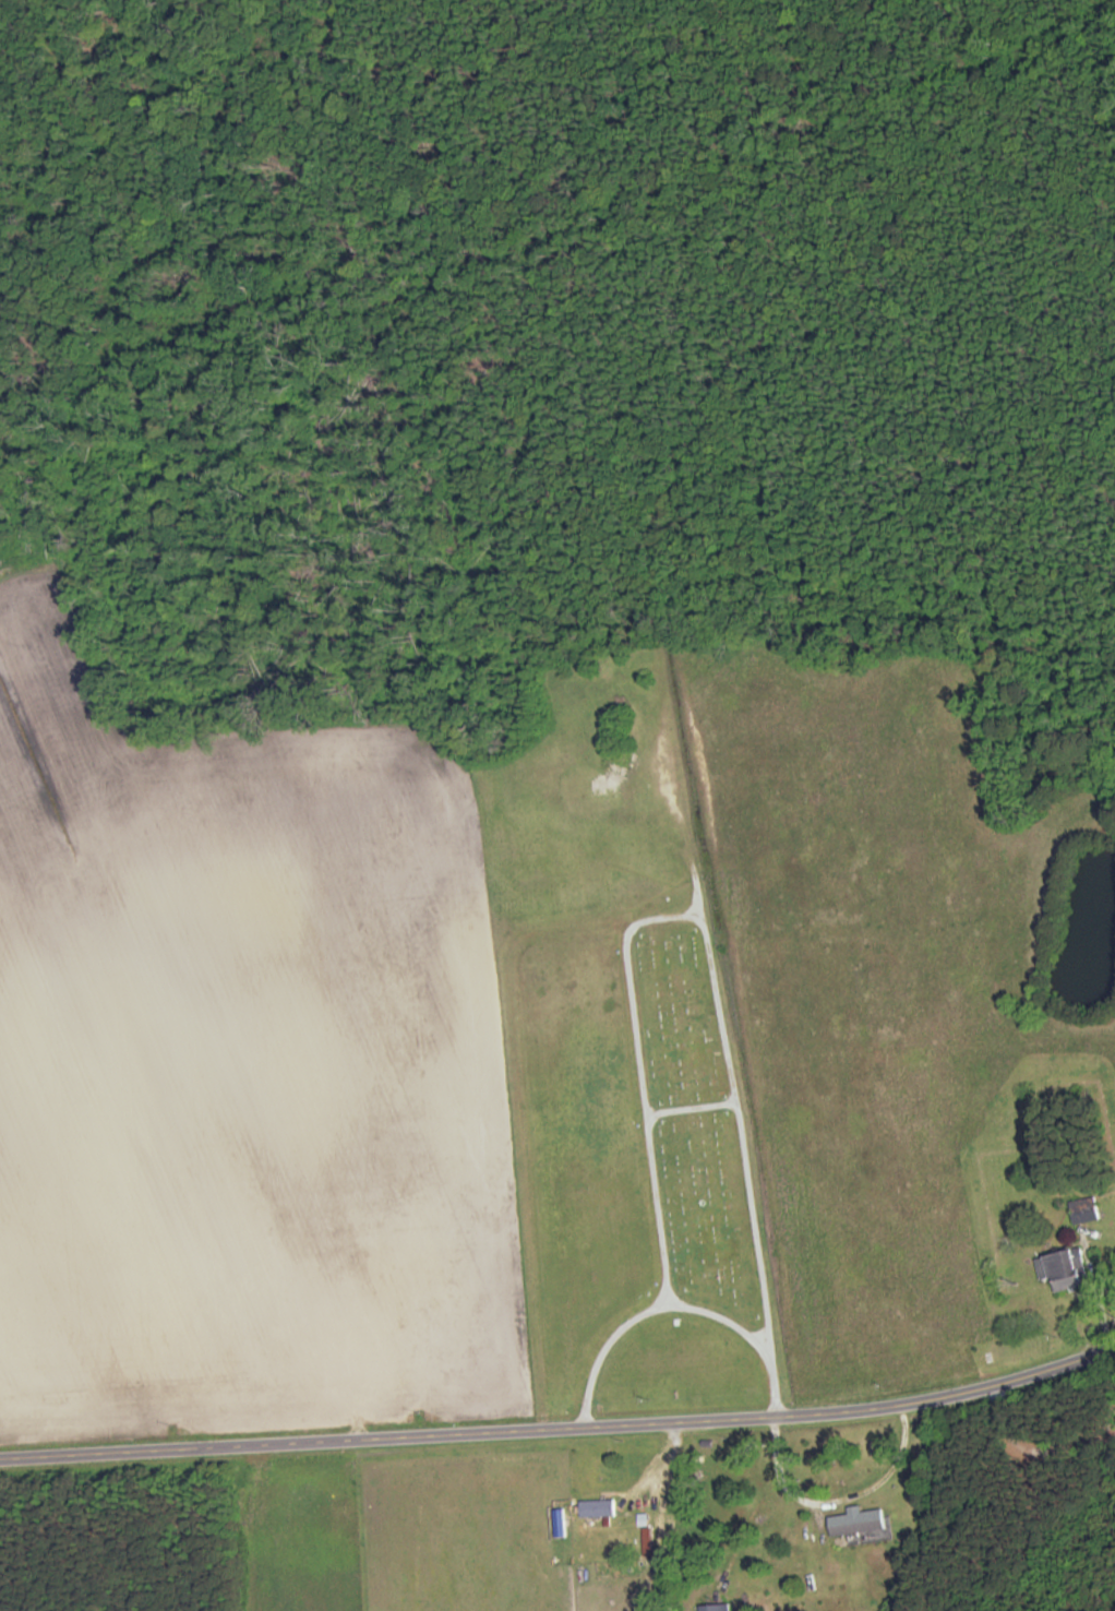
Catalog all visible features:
building: (1086, 1212)
building: (1065, 1270)
road: (561, 1432)
building: (599, 1507)
building: (860, 1520)
building: (718, 1607)

